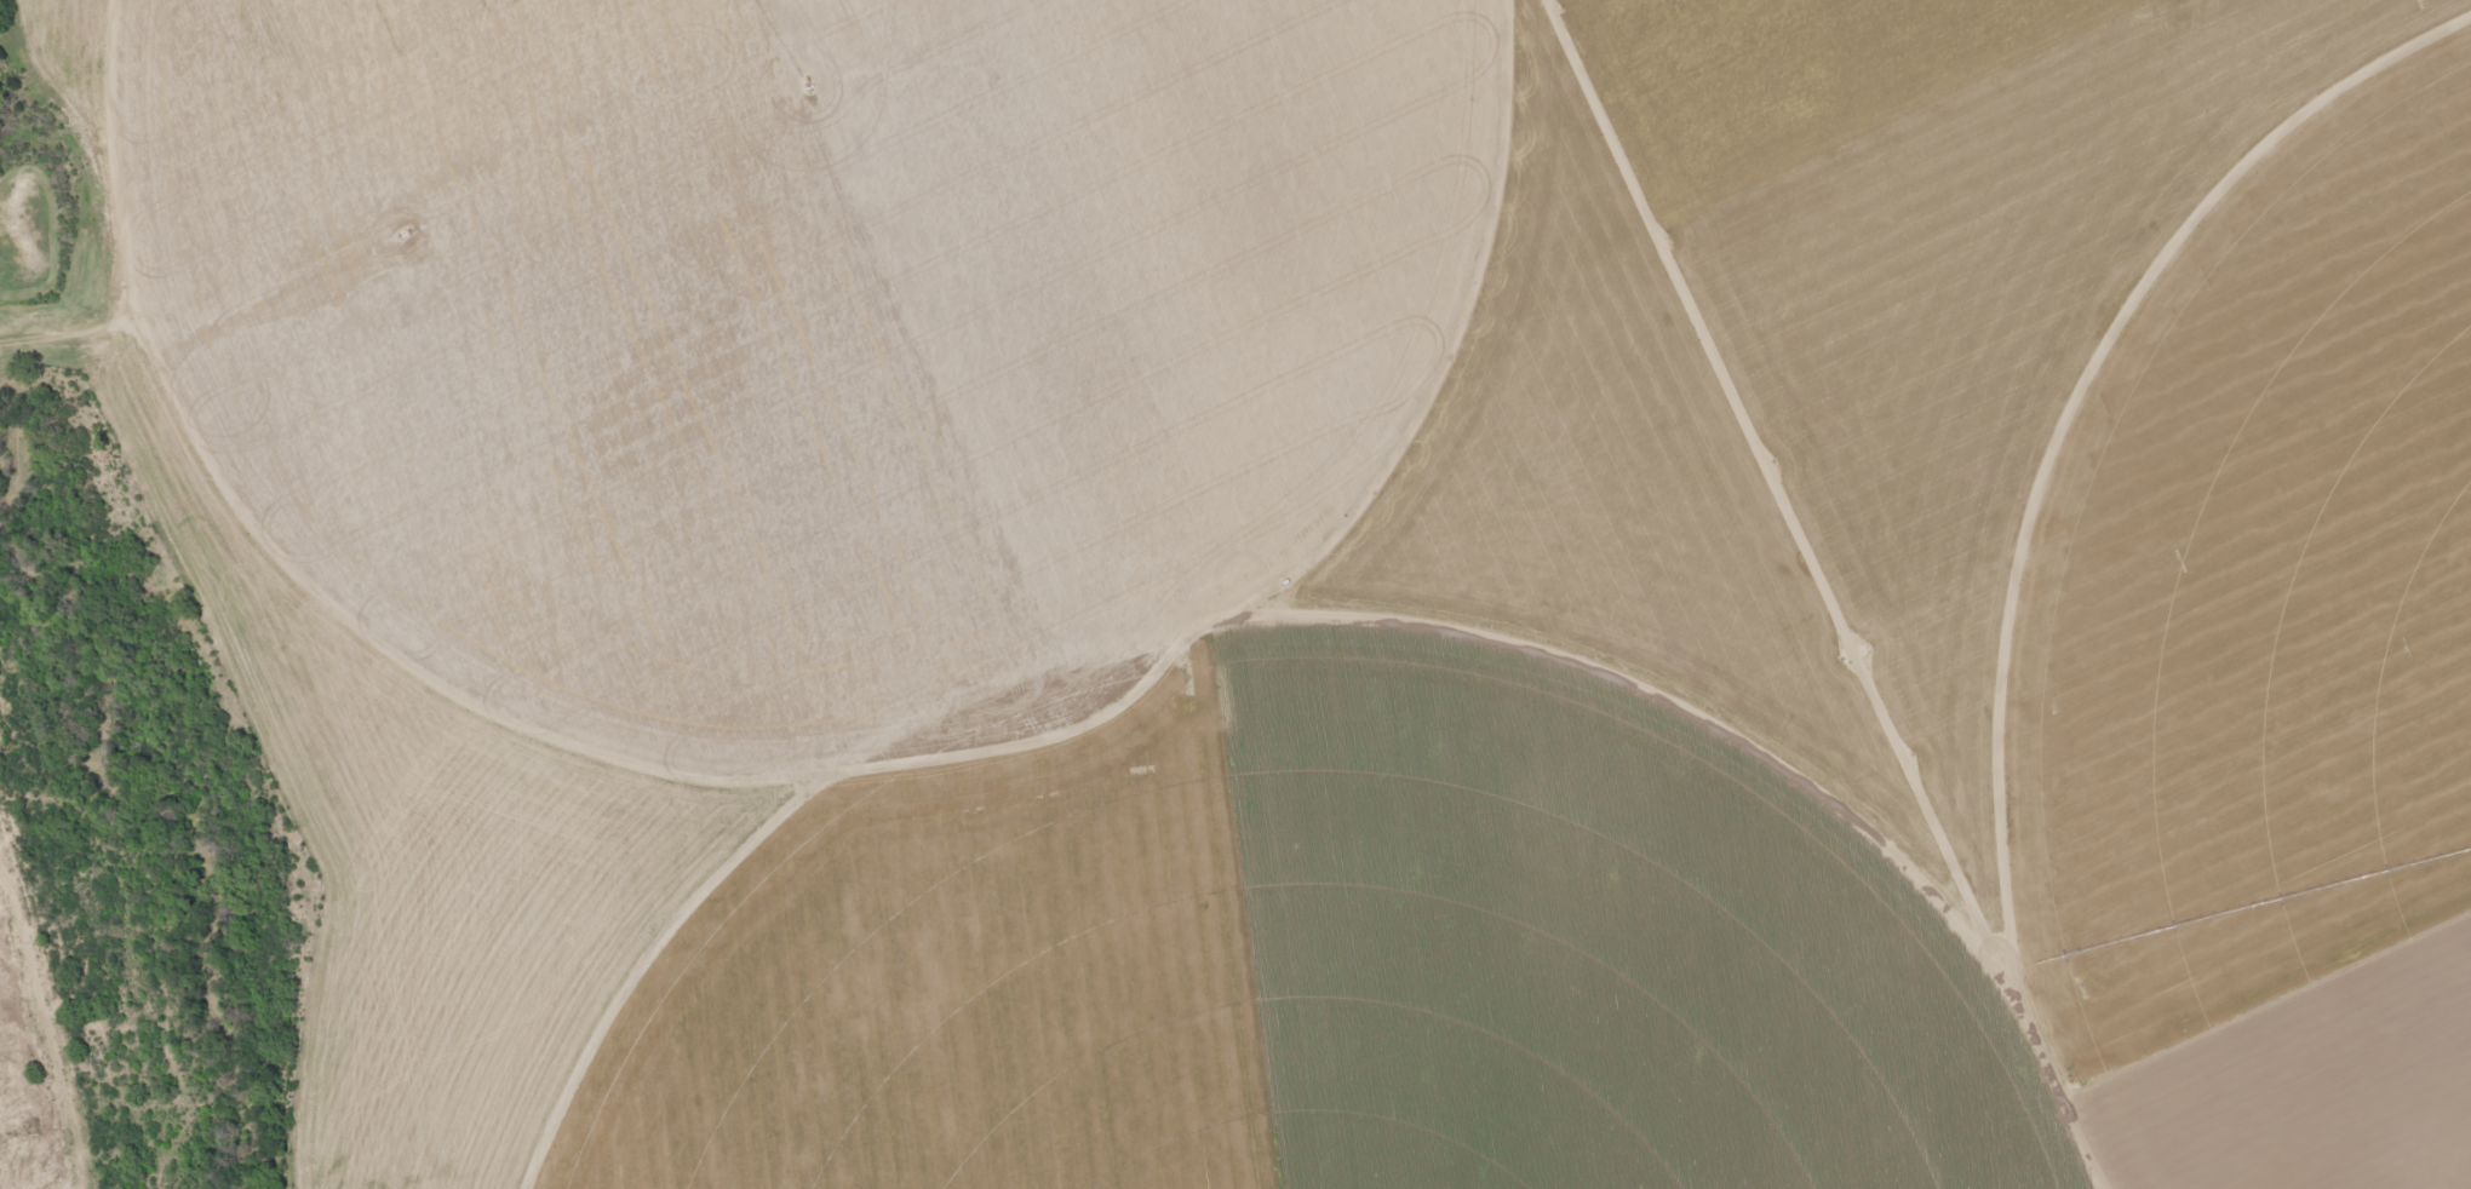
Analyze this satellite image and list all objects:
road: (447, 200)

